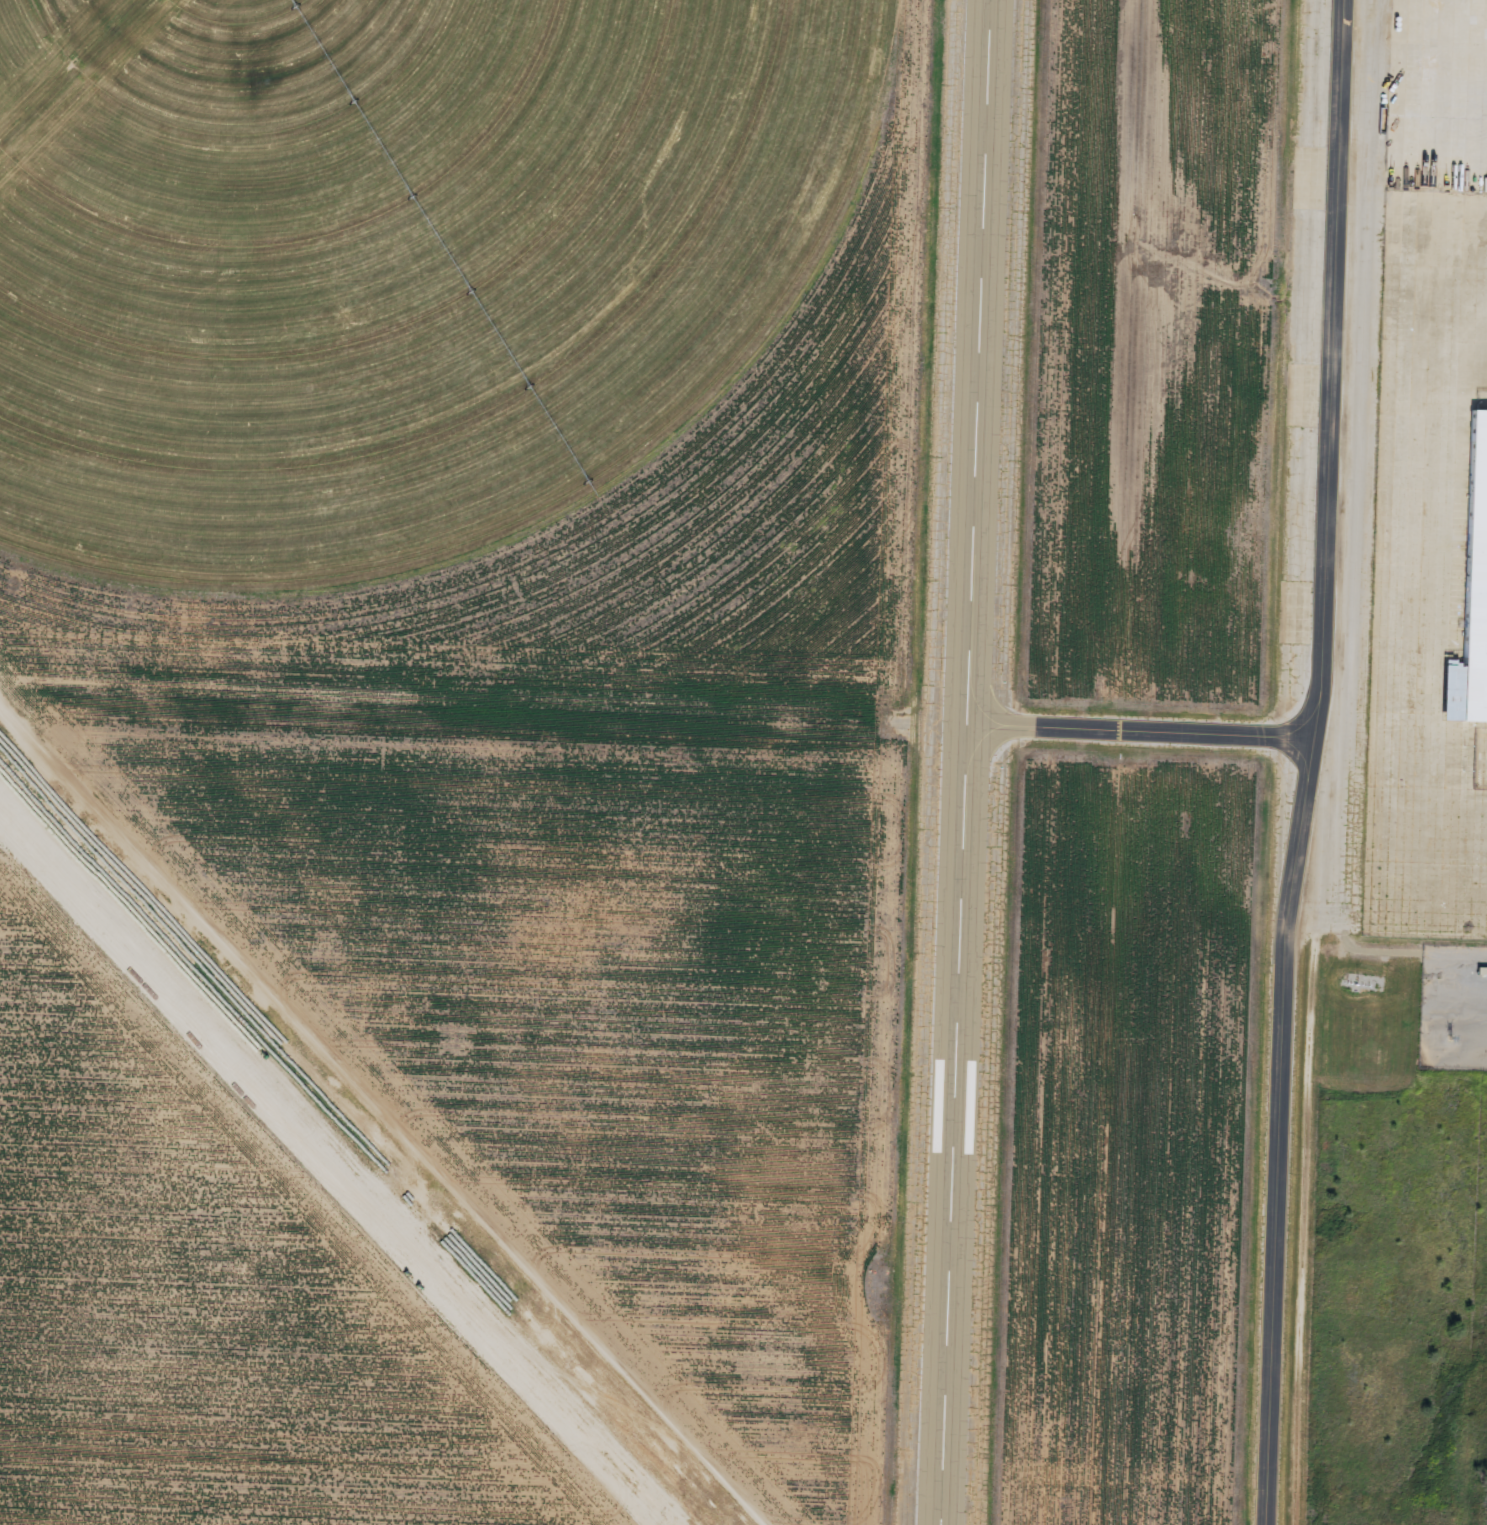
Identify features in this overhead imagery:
crop: (395, 256)
airport apron: (1402, 475)
building: (1473, 597)
airport taxiway: (1138, 735)
airport: (743, 762)
airport runway: (965, 762)
airport taxiway: (1307, 763)

